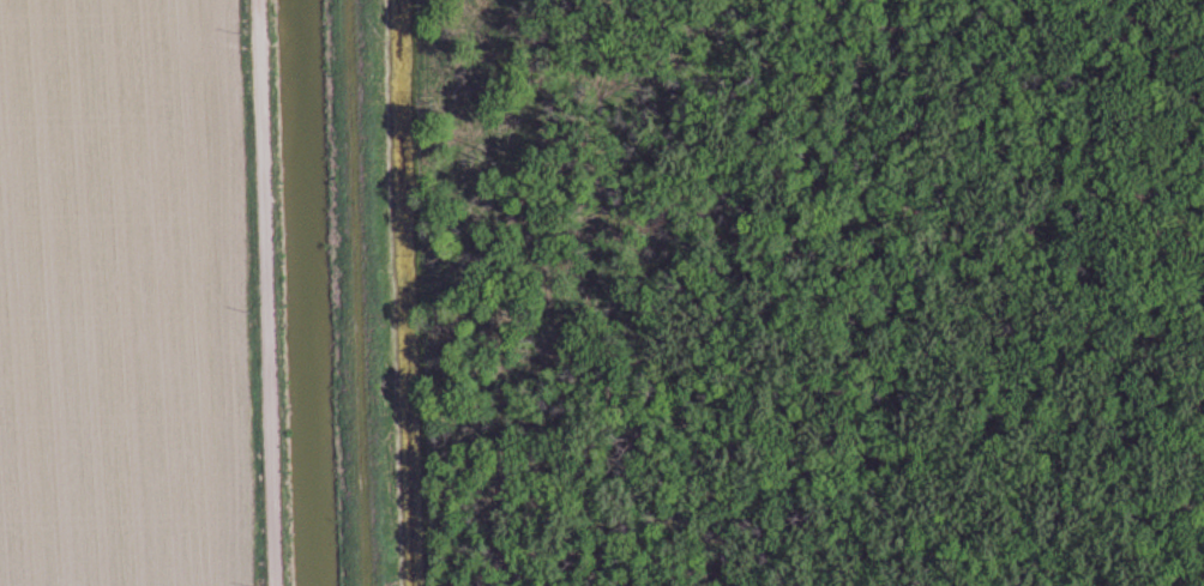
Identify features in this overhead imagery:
road: (263, 292)

